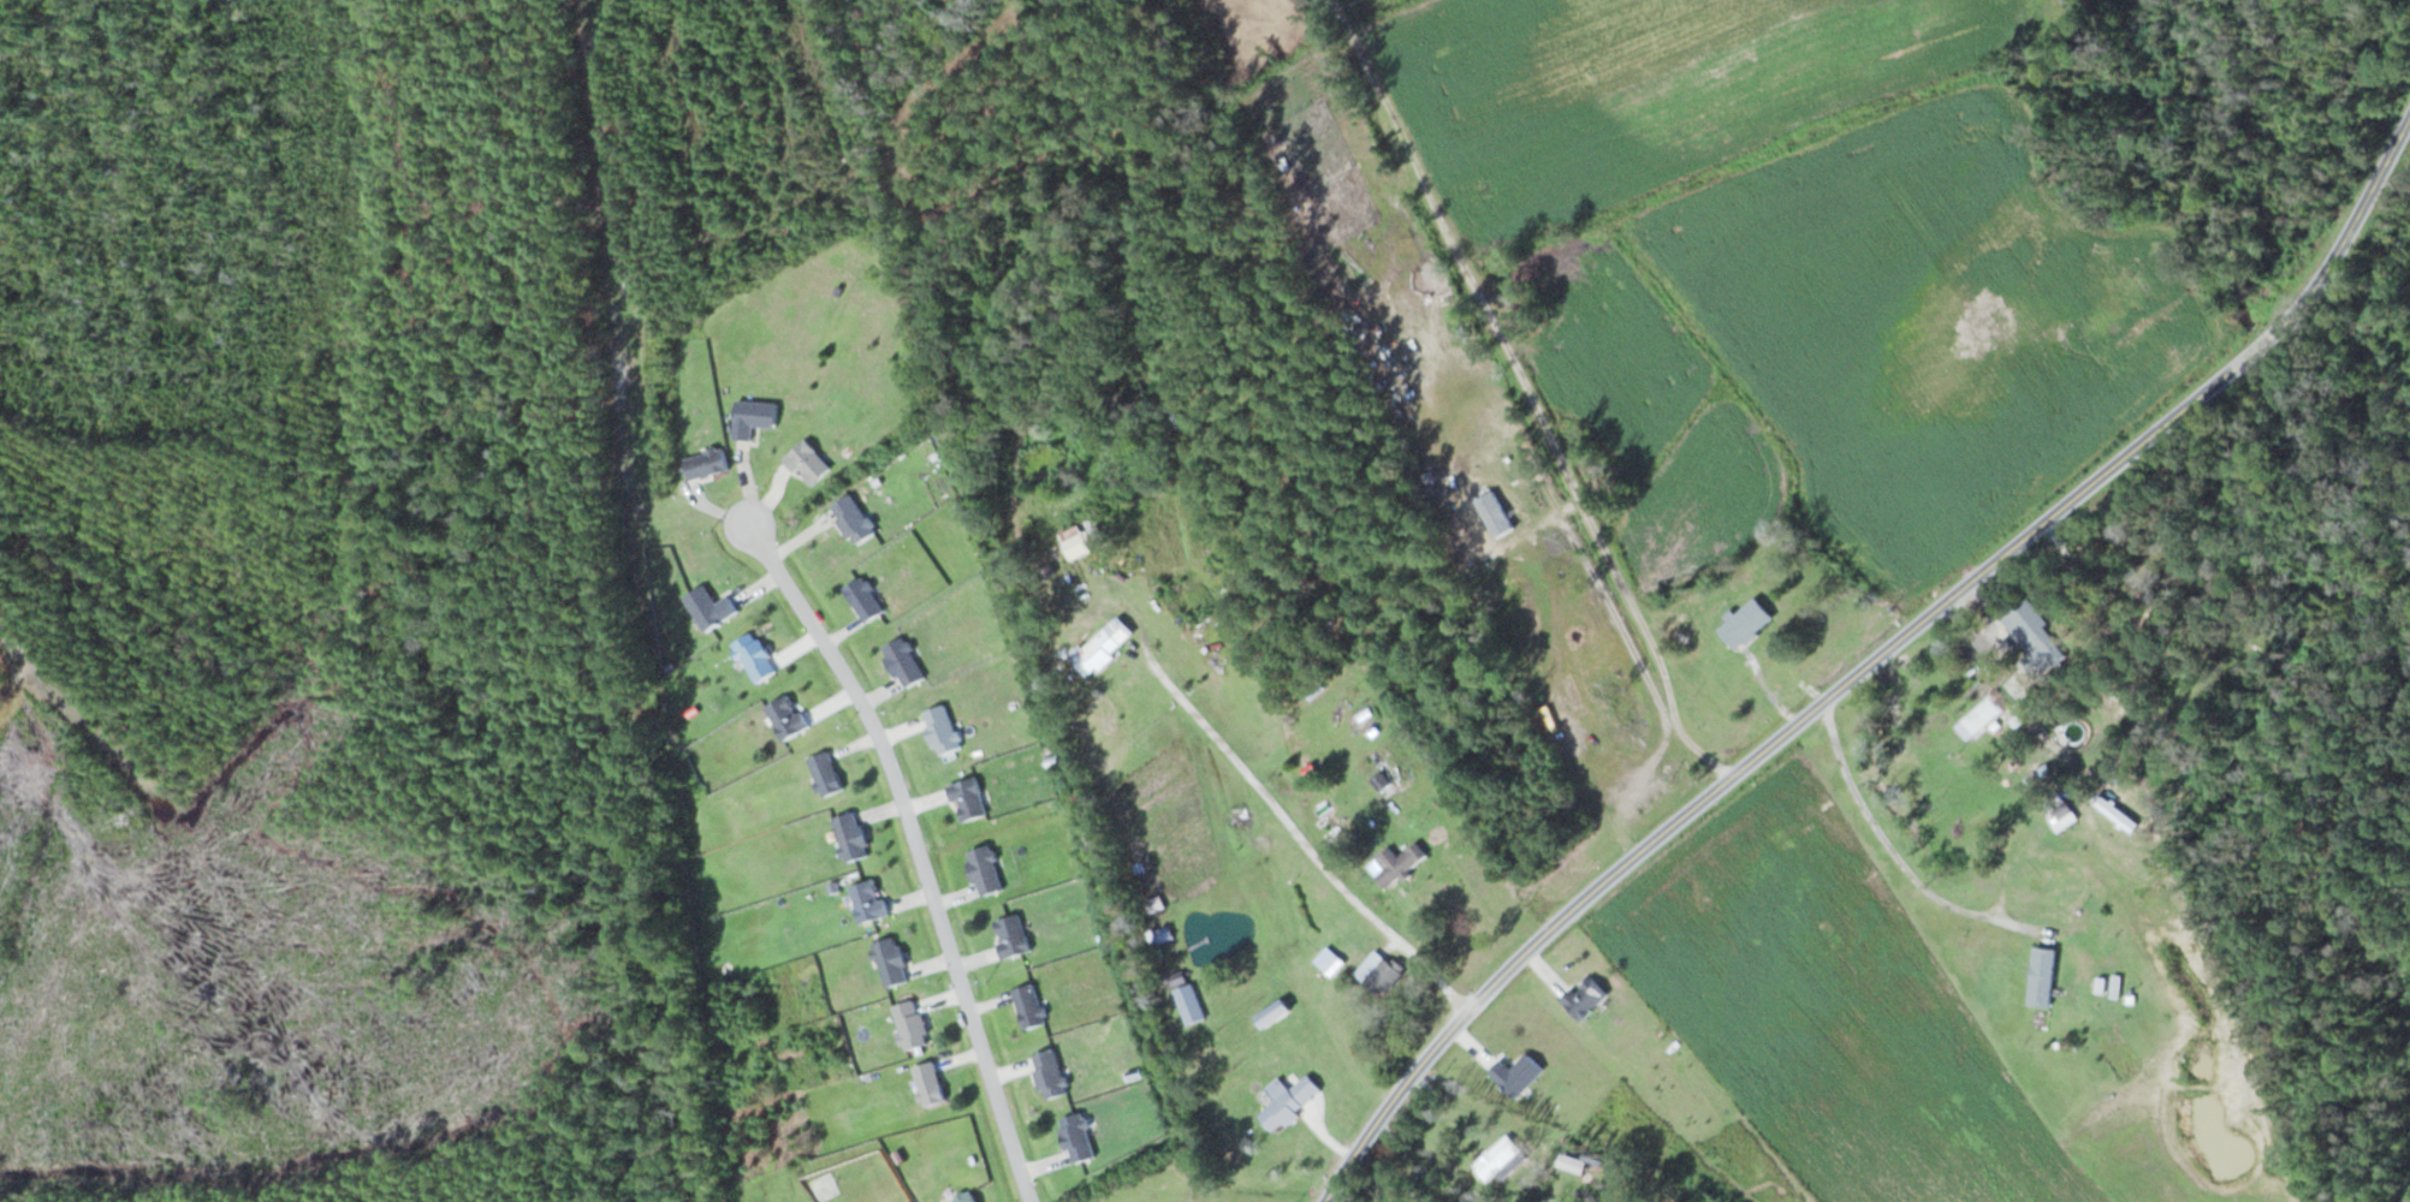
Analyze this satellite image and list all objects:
road: (1527, 392)
building: (753, 417)
building: (807, 463)
building: (705, 464)
building: (853, 519)
building: (1081, 537)
building: (863, 599)
building: (708, 607)
building: (1745, 624)
building: (1681, 630)
building: (2034, 638)
building: (1097, 651)
road: (1865, 654)
building: (754, 656)
building: (902, 661)
building: (1994, 713)
building: (785, 716)
building: (942, 728)
building: (825, 773)
building: (1898, 780)
building: (967, 799)
building: (850, 835)
road: (1886, 849)
road: (920, 855)
building: (1396, 863)
building: (984, 869)
building: (867, 900)
building: (1010, 935)
building: (890, 962)
building: (1378, 974)
building: (2041, 977)
building: (1584, 998)
building: (1188, 1002)
building: (1028, 1006)
building: (910, 1024)
building: (1047, 1073)
building: (1515, 1075)
building: (928, 1083)
building: (1288, 1102)
building: (1076, 1138)
building: (1500, 1159)
building: (1586, 1168)
building: (964, 1197)

